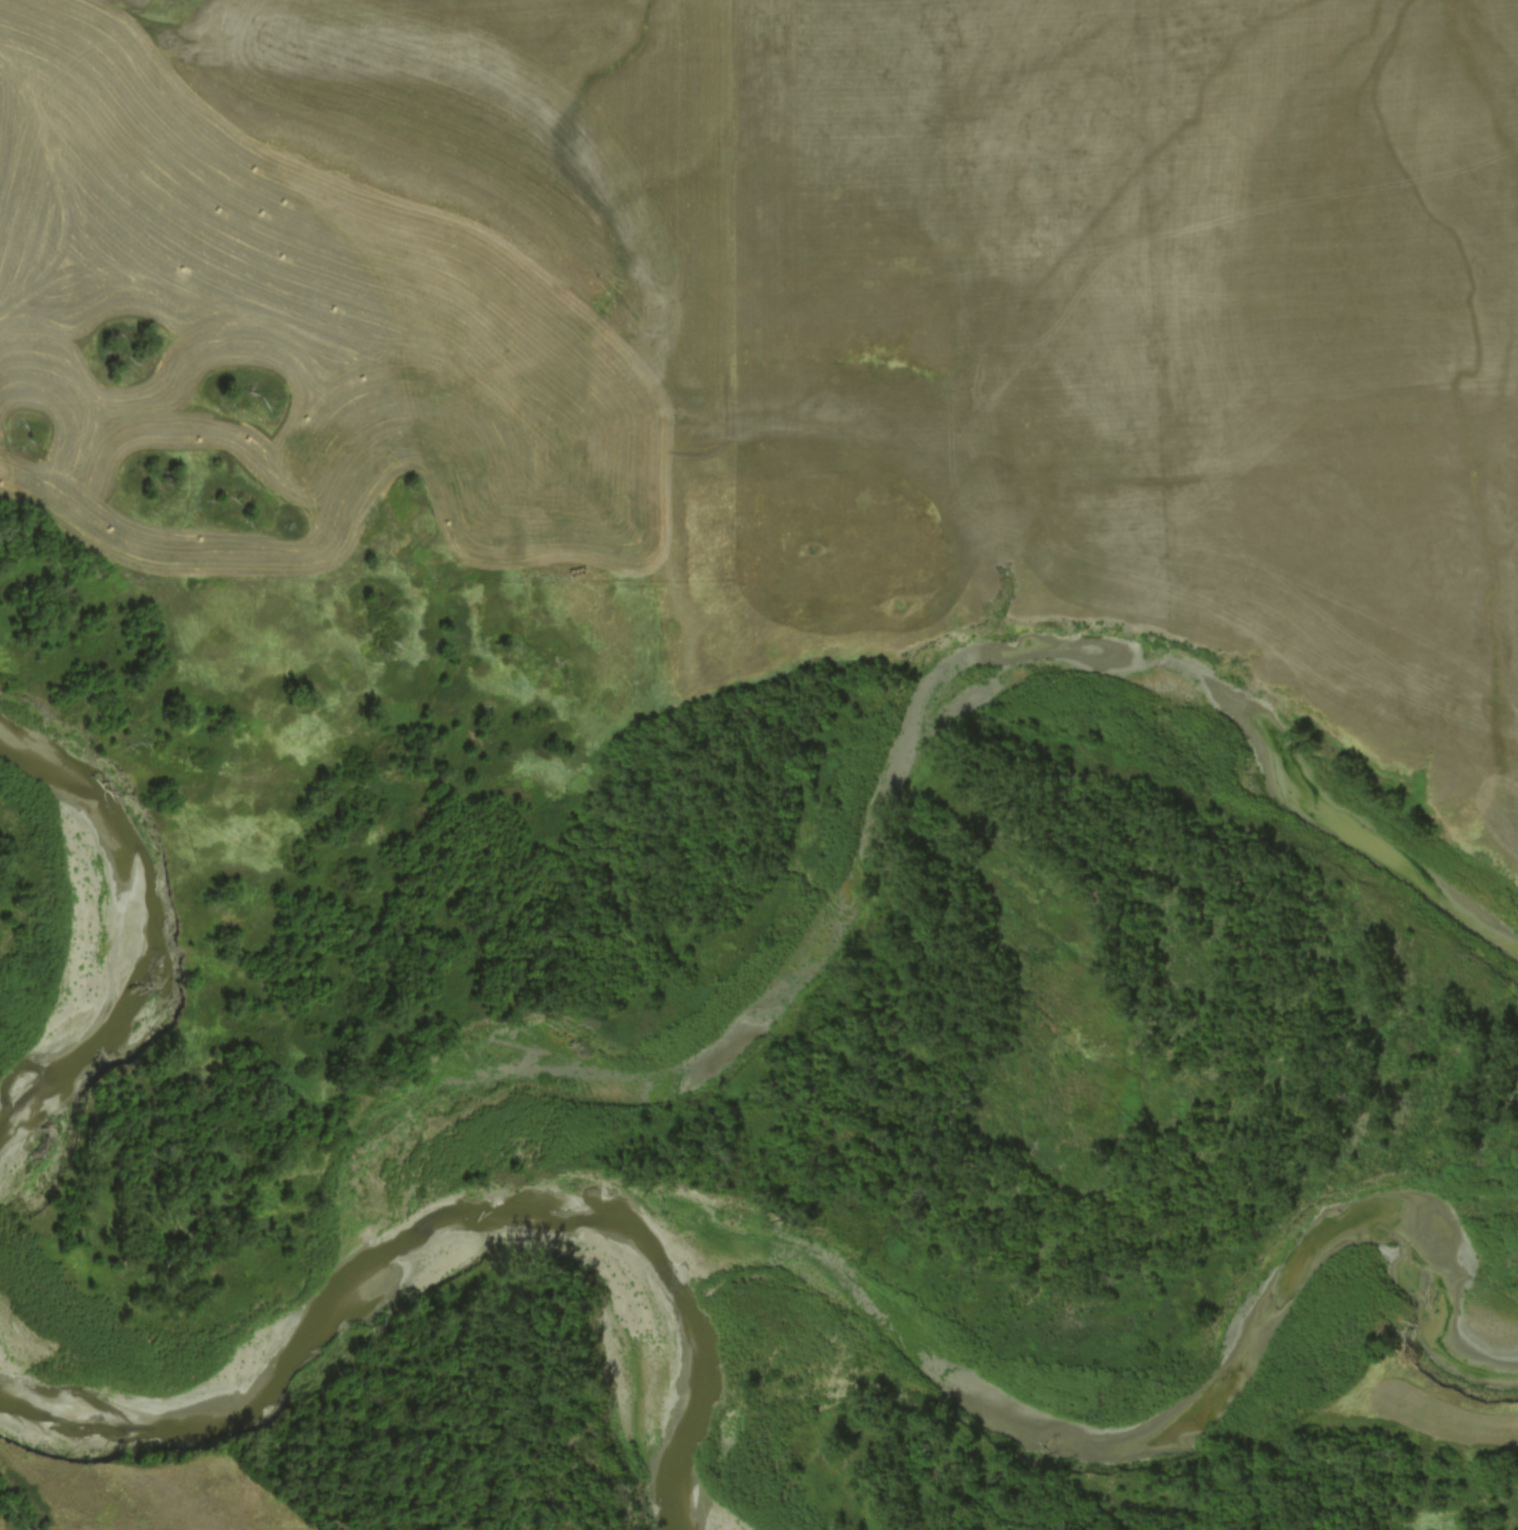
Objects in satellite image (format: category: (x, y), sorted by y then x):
river: (79, 921)
river: (792, 964)
river: (1495, 1295)
river: (974, 1390)

